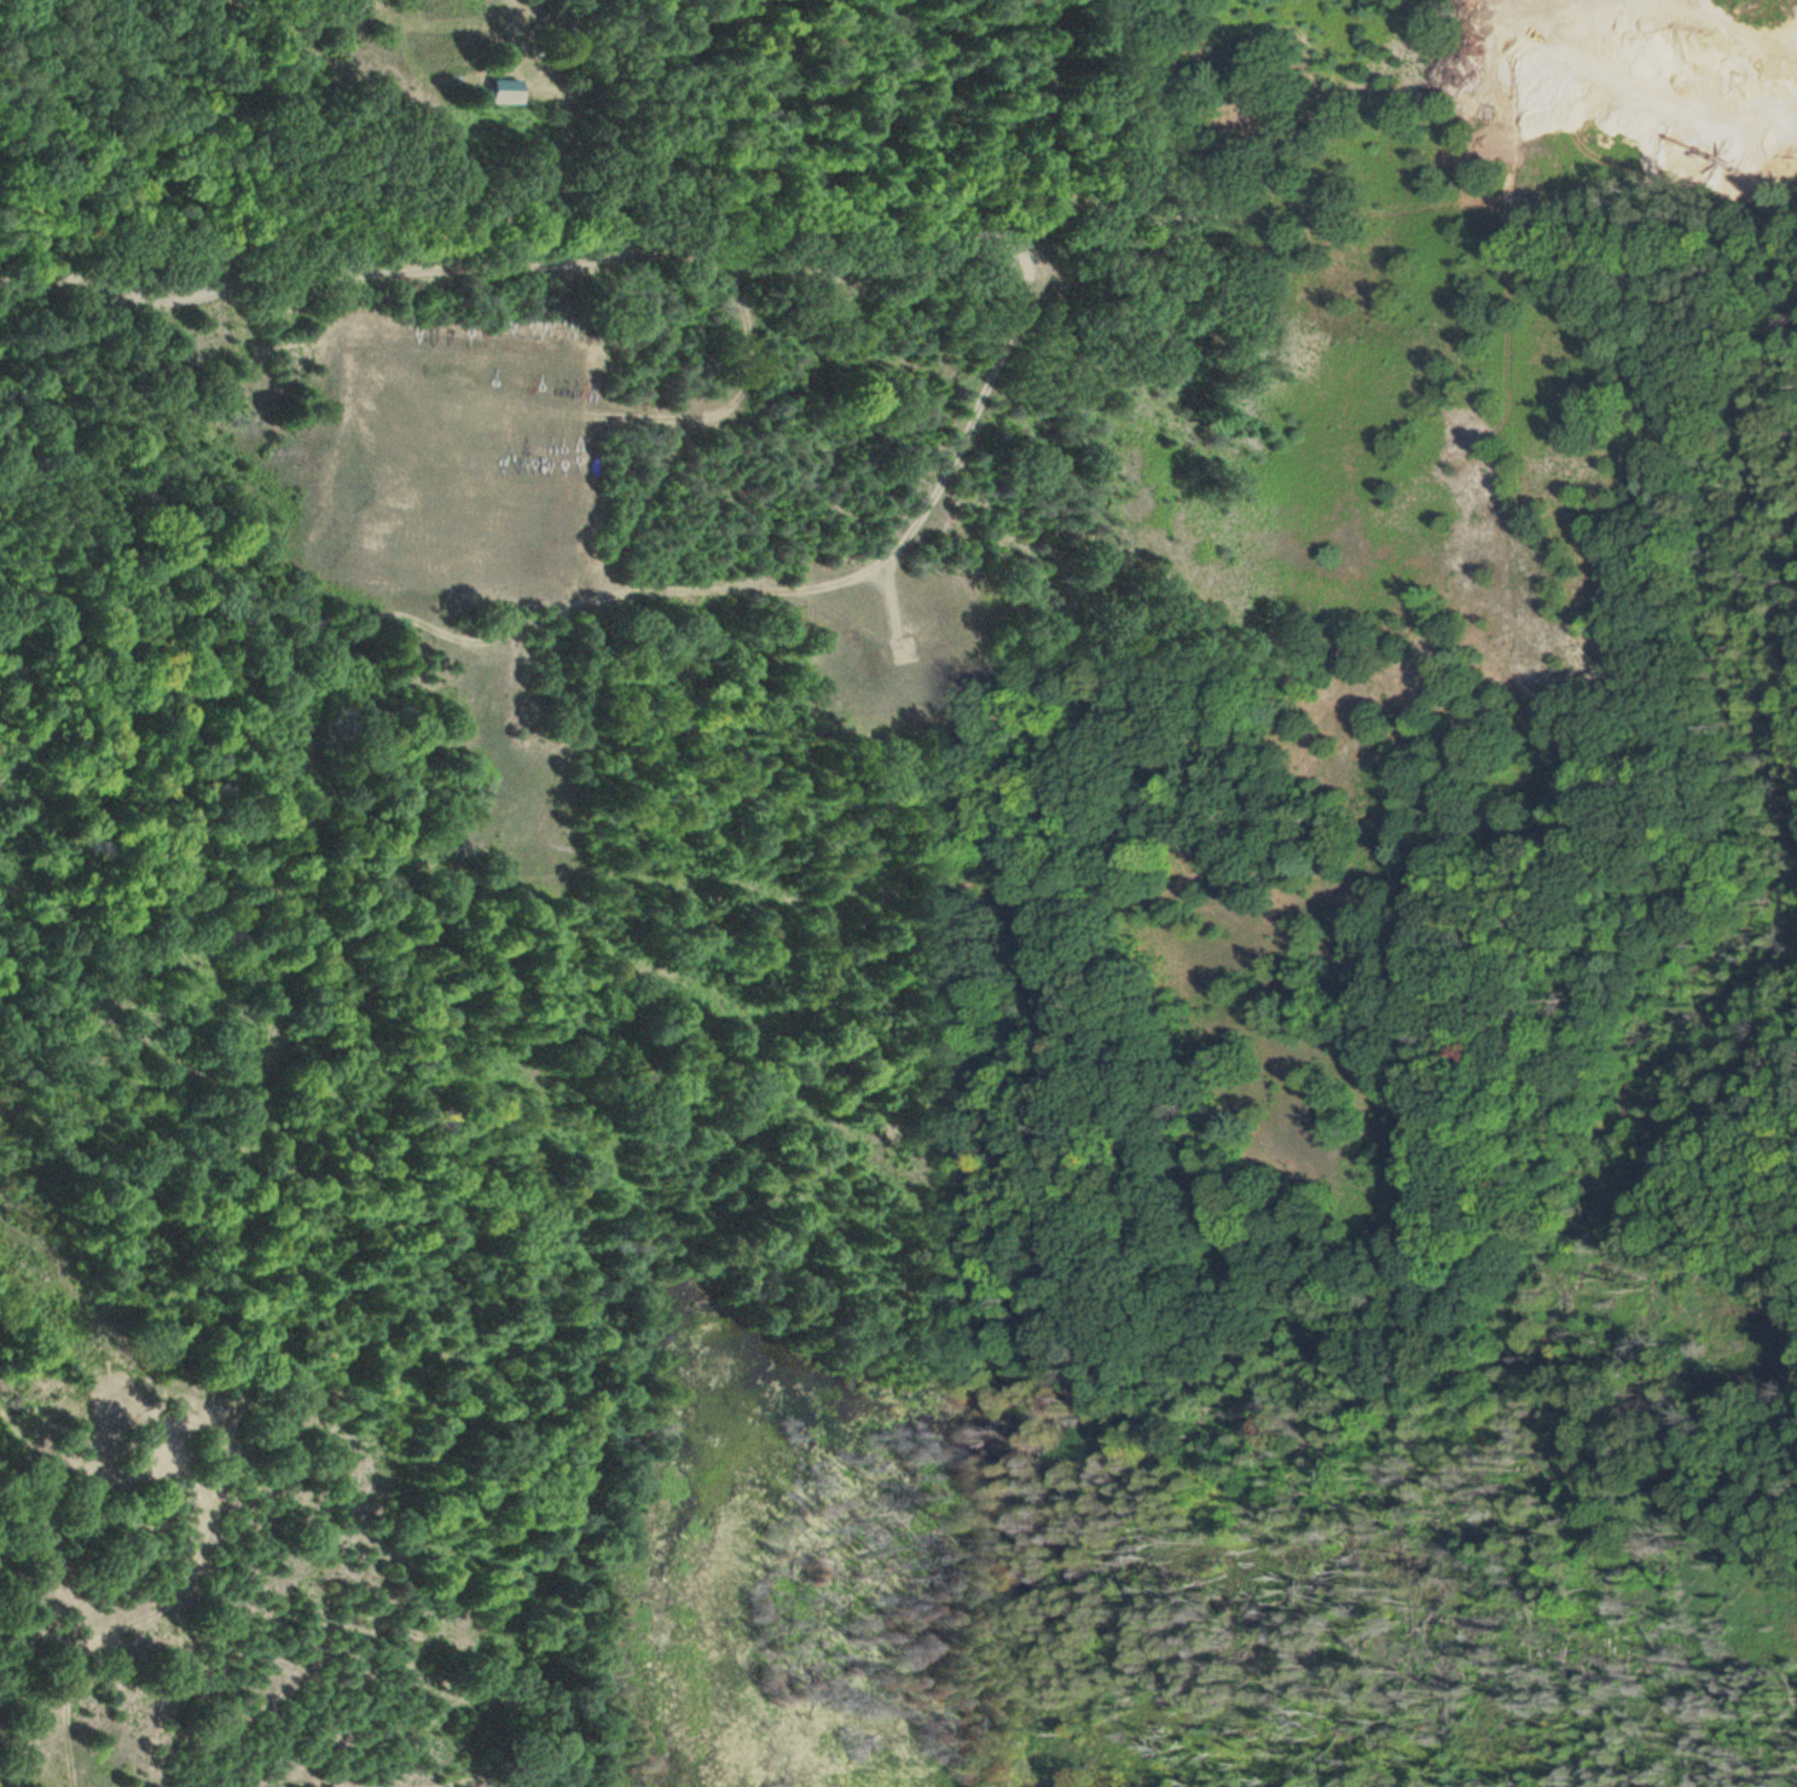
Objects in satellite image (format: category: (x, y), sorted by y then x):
building: (506, 92)
road: (898, 208)
road: (1512, 545)

